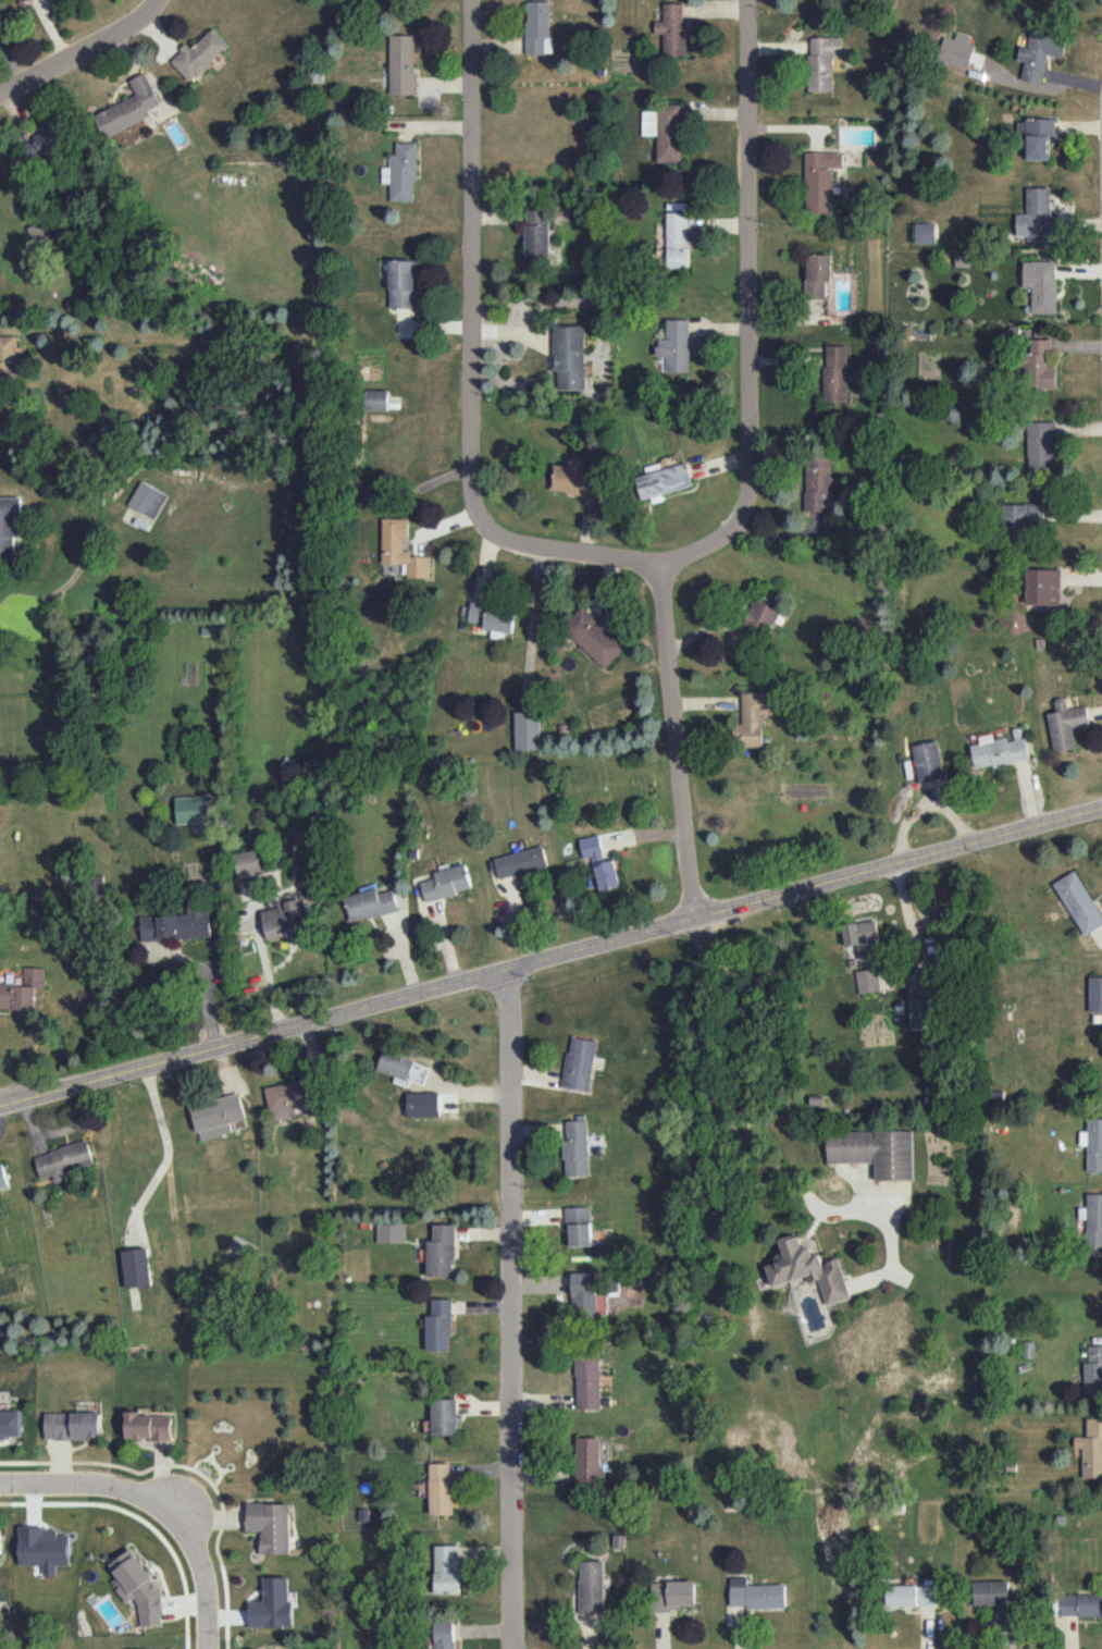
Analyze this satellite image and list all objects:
building: (537, 26)
building: (673, 28)
building: (0, 29)
building: (957, 50)
road: (81, 52)
building: (1040, 53)
building: (199, 54)
building: (822, 62)
building: (403, 64)
road: (1044, 87)
building: (127, 108)
building: (665, 131)
building: (1039, 136)
building: (46, 143)
building: (401, 172)
building: (820, 179)
building: (1037, 216)
building: (40, 232)
building: (536, 232)
building: (926, 232)
building: (678, 237)
building: (818, 274)
building: (403, 283)
building: (1041, 284)
road: (745, 306)
building: (676, 345)
building: (8, 354)
road: (470, 356)
building: (570, 356)
building: (1039, 364)
building: (837, 373)
building: (375, 399)
building: (1040, 444)
building: (575, 479)
building: (664, 481)
building: (819, 483)
building: (147, 499)
building: (1023, 515)
building: (9, 525)
building: (401, 547)
building: (1042, 586)
building: (762, 615)
building: (493, 619)
building: (593, 637)
building: (753, 717)
building: (1065, 724)
building: (528, 729)
road: (674, 740)
building: (999, 752)
building: (928, 761)
building: (193, 809)
building: (599, 861)
building: (250, 862)
building: (521, 862)
building: (448, 882)
building: (95, 883)
building: (1079, 902)
building: (371, 903)
building: (285, 921)
building: (176, 924)
building: (864, 939)
road: (550, 958)
road: (265, 968)
building: (867, 980)
building: (22, 989)
building: (1095, 993)
building: (918, 1011)
building: (579, 1062)
building: (288, 1097)
building: (423, 1104)
road: (714, 1106)
building: (218, 1116)
building: (1093, 1144)
building: (575, 1148)
building: (875, 1150)
road: (166, 1152)
building: (64, 1160)
building: (2, 1177)
building: (1092, 1219)
building: (579, 1226)
building: (391, 1232)
building: (441, 1251)
building: (136, 1267)
building: (808, 1268)
building: (584, 1293)
road: (515, 1308)
building: (438, 1325)
building: (1093, 1373)
building: (587, 1381)
building: (445, 1416)
building: (12, 1425)
building: (72, 1425)
building: (148, 1425)
park: (235, 1426)
building: (1091, 1448)
building: (589, 1460)
road: (150, 1467)
building: (441, 1488)
road: (161, 1500)
road: (3, 1502)
road: (844, 1504)
building: (272, 1525)
road: (165, 1545)
building: (447, 1568)
building: (592, 1587)
building: (137, 1588)
building: (756, 1593)
building: (673, 1595)
building: (911, 1595)
building: (993, 1596)
building: (271, 1603)
building: (1080, 1604)
building: (445, 1635)
road: (227, 1645)

